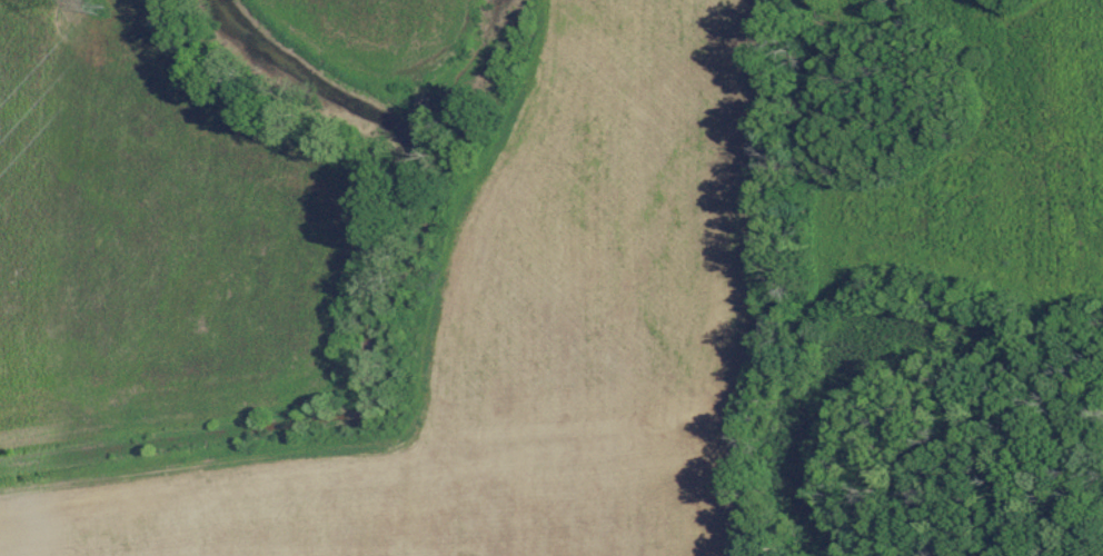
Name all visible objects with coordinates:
power tower: (92, 8)

